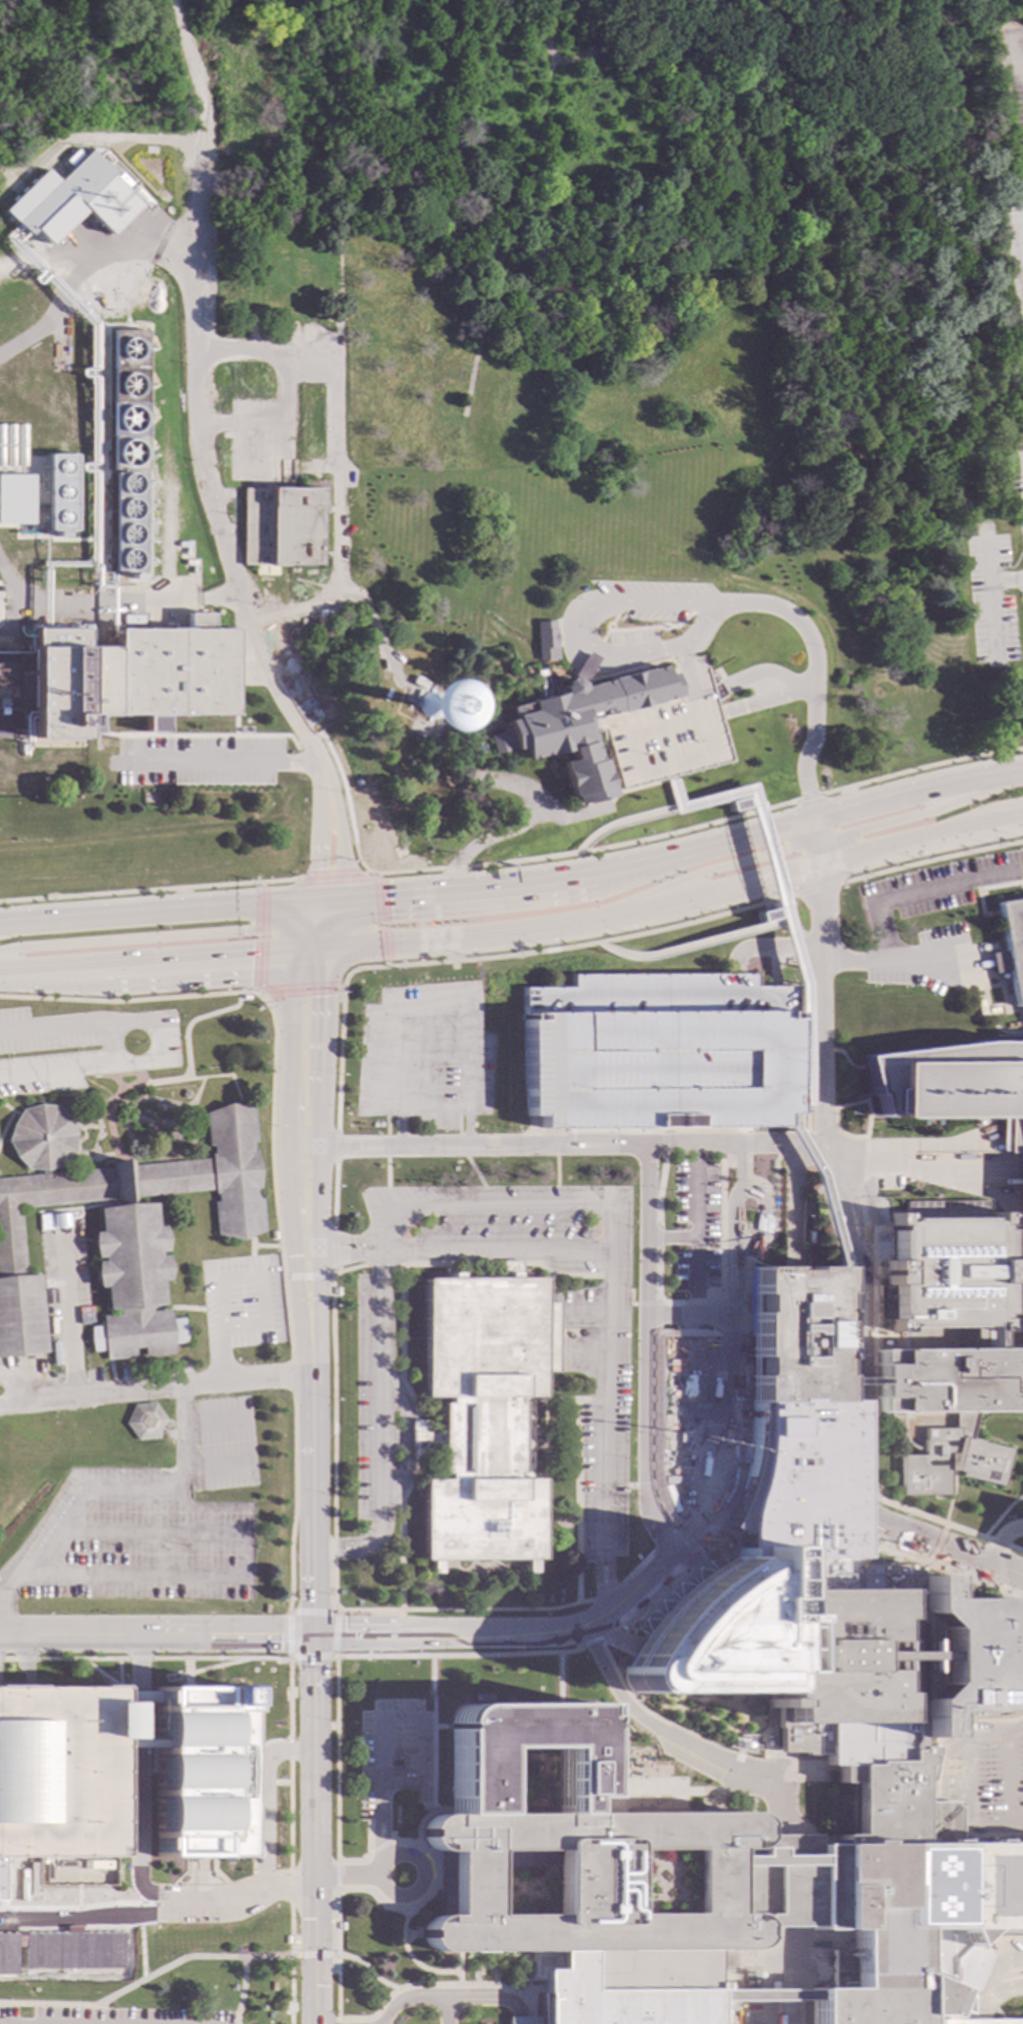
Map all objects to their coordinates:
road: (550, 63)
road: (568, 63)
road: (194, 82)
road: (339, 187)
building: (72, 200)
building: (275, 224)
road: (494, 240)
road: (198, 242)
road: (51, 259)
park: (594, 295)
building: (126, 400)
road: (285, 417)
parking lot: (260, 443)
road: (264, 449)
road: (335, 460)
building: (238, 472)
building: (15, 475)
road: (203, 481)
building: (59, 493)
building: (127, 522)
building: (281, 527)
building: (2, 601)
road: (21, 603)
road: (160, 606)
road: (72, 612)
building: (4, 616)
road: (579, 637)
building: (545, 641)
road: (816, 680)
building: (115, 682)
building: (478, 685)
building: (434, 694)
water tower: (431, 706)
building: (579, 723)
building: (153, 725)
building: (669, 733)
parking lot: (669, 733)
road: (307, 741)
parking lot: (197, 760)
road: (223, 762)
road: (920, 768)
road: (517, 785)
road: (918, 795)
road: (809, 798)
road: (978, 814)
road: (916, 815)
road: (570, 816)
road: (623, 822)
road: (753, 837)
road: (922, 840)
road: (482, 842)
road: (818, 844)
road: (667, 859)
road: (931, 860)
road: (509, 862)
road: (711, 869)
traffic signals: (329, 870)
road: (617, 872)
road: (335, 878)
road: (817, 889)
road: (150, 891)
road: (461, 894)
road: (775, 897)
traffic signals: (388, 899)
road: (886, 899)
traffic signals: (328, 902)
road: (163, 912)
road: (381, 920)
road: (571, 925)
road: (8, 926)
road: (321, 928)
road: (168, 937)
road: (259, 938)
road: (689, 945)
building: (1012, 945)
road: (564, 948)
road: (769, 949)
traffic signals: (315, 955)
traffic signals: (250, 959)
road: (929, 962)
road: (157, 964)
road: (299, 990)
building: (244, 998)
traffic signals: (312, 998)
road: (128, 1001)
road: (418, 1008)
road: (156, 1044)
road: (108, 1048)
parking lot: (78, 1049)
building: (657, 1053)
parking lot: (657, 1053)
parking lot: (424, 1056)
road: (424, 1058)
road: (338, 1061)
building: (183, 1096)
road: (430, 1108)
road: (563, 1146)
road: (335, 1147)
road: (737, 1167)
road: (901, 1168)
building: (451, 1170)
road: (554, 1171)
road: (272, 1173)
building: (1022, 1176)
road: (642, 1192)
road: (333, 1193)
road: (790, 1206)
road: (693, 1221)
road: (761, 1224)
parking lot: (694, 1225)
road: (731, 1225)
building: (830, 1225)
building: (118, 1227)
parking lot: (500, 1228)
building: (272, 1235)
road: (668, 1238)
road: (356, 1241)
road: (320, 1248)
road: (333, 1250)
road: (491, 1252)
road: (355, 1255)
road: (854, 1276)
road: (306, 1278)
road: (243, 1279)
parking lot: (63, 1284)
road: (731, 1288)
road: (606, 1290)
building: (335, 1292)
parking lot: (241, 1304)
road: (68, 1308)
parking lot: (618, 1314)
road: (666, 1315)
road: (710, 1315)
road: (644, 1363)
parking lot: (154, 1370)
parking lot: (27, 1375)
road: (291, 1376)
parking lot: (95, 1377)
road: (155, 1386)
parking lot: (360, 1401)
building: (949, 1409)
building: (483, 1415)
road: (214, 1420)
building: (145, 1421)
building: (794, 1424)
road: (377, 1426)
road: (405, 1436)
road: (331, 1443)
road: (215, 1466)
road: (114, 1489)
road: (311, 1489)
road: (293, 1505)
road: (654, 1521)
parking lot: (149, 1522)
road: (154, 1533)
road: (1001, 1541)
building: (635, 1558)
road: (666, 1558)
road: (636, 1567)
road: (161, 1577)
road: (605, 1592)
road: (647, 1593)
road: (464, 1610)
road: (312, 1613)
road: (2, 1616)
road: (508, 1633)
traffic signals: (313, 1635)
road: (335, 1635)
road: (288, 1636)
road: (156, 1637)
road: (600, 1637)
road: (458, 1656)
road: (311, 1658)
road: (202, 1659)
road: (7, 1660)
road: (23, 1660)
road: (23, 1662)
road: (559, 1681)
building: (133, 1697)
road: (421, 1717)
road: (682, 1741)
building: (133, 1743)
road: (289, 1751)
parking lot: (392, 1755)
road: (336, 1761)
building: (58, 1771)
parking lot: (58, 1771)
building: (196, 1773)
road: (1007, 1778)
road: (966, 1781)
building: (884, 1791)
road: (380, 1795)
road: (263, 1800)
road: (289, 1816)
road: (126, 1830)
road: (385, 1831)
road: (376, 1836)
road: (126, 1840)
road: (138, 1854)
road: (337, 1876)
road: (346, 1877)
road: (794, 1881)
helipad: (927, 1887)
road: (290, 1888)
road: (416, 1895)
road: (81, 1913)
building: (341, 1927)
building: (286, 1940)
building: (61, 1951)
road: (337, 1953)
road: (314, 1956)
road: (793, 1958)
road: (291, 1964)
road: (366, 1966)
road: (992, 1971)
road: (148, 1978)
road: (440, 1985)
road: (534, 1989)
road: (793, 1995)
road: (993, 1996)
road: (452, 1999)
road: (448, 2011)
road: (793, 2012)
parking lot: (114, 2016)
building: (974, 2021)
road: (338, 2022)
road: (531, 2022)
road: (974, 2022)

